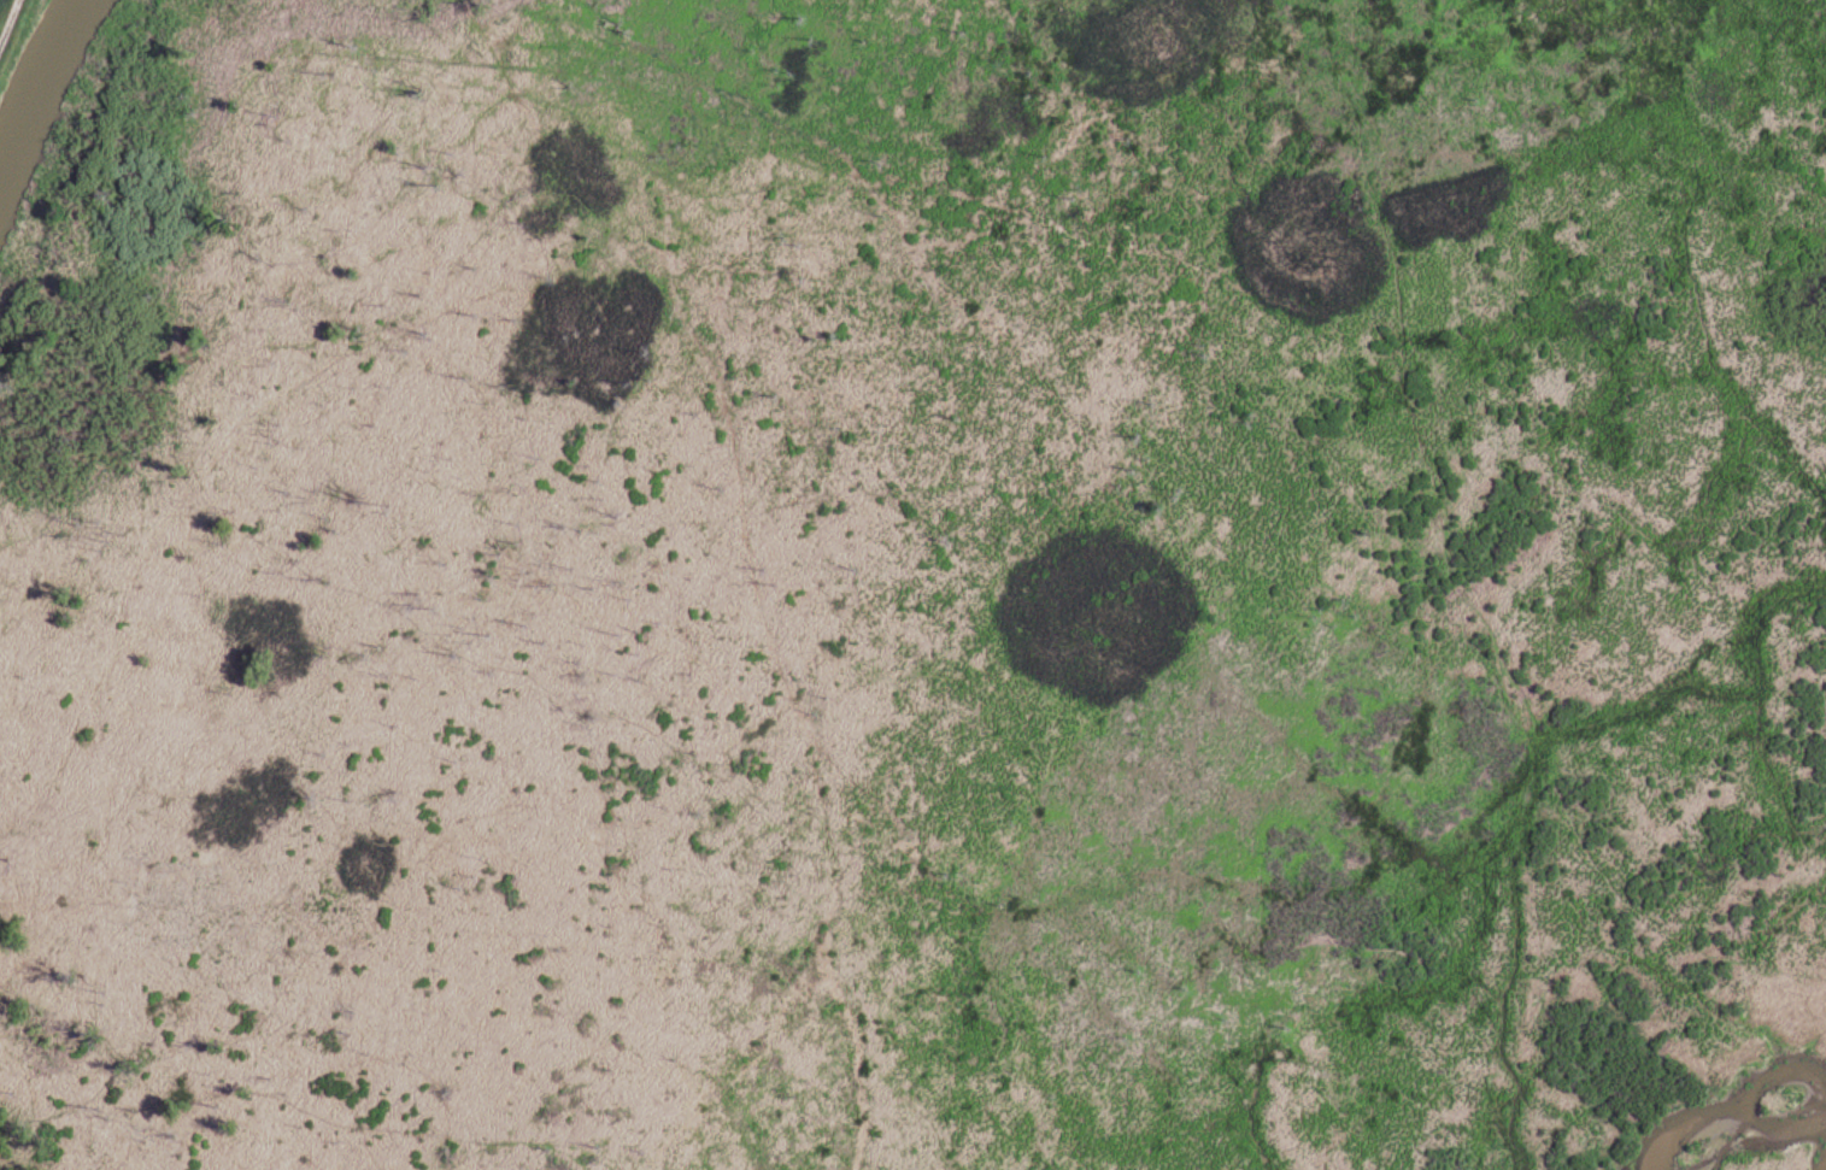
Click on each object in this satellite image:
road: (7, 17)

